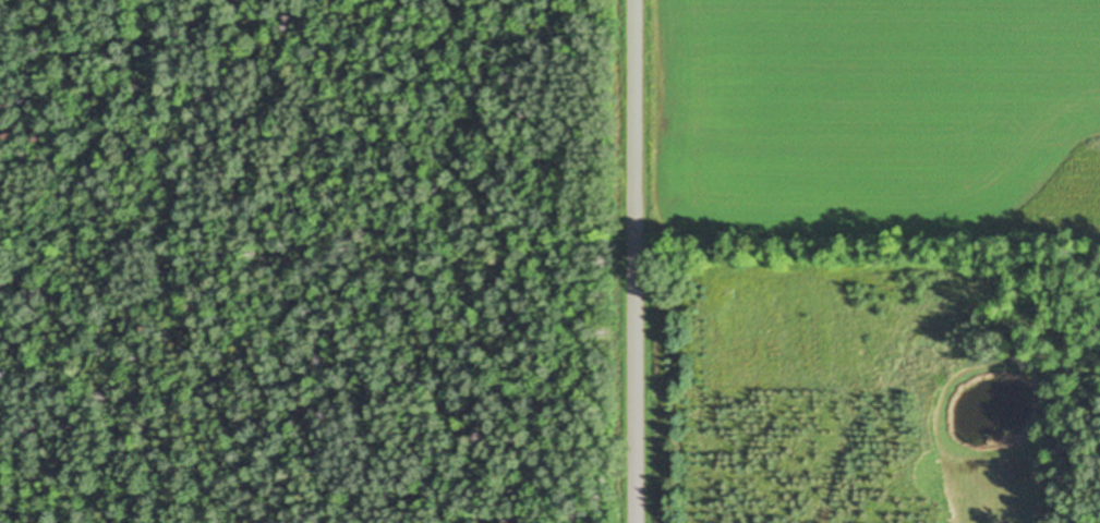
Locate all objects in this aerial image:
road: (638, 261)

